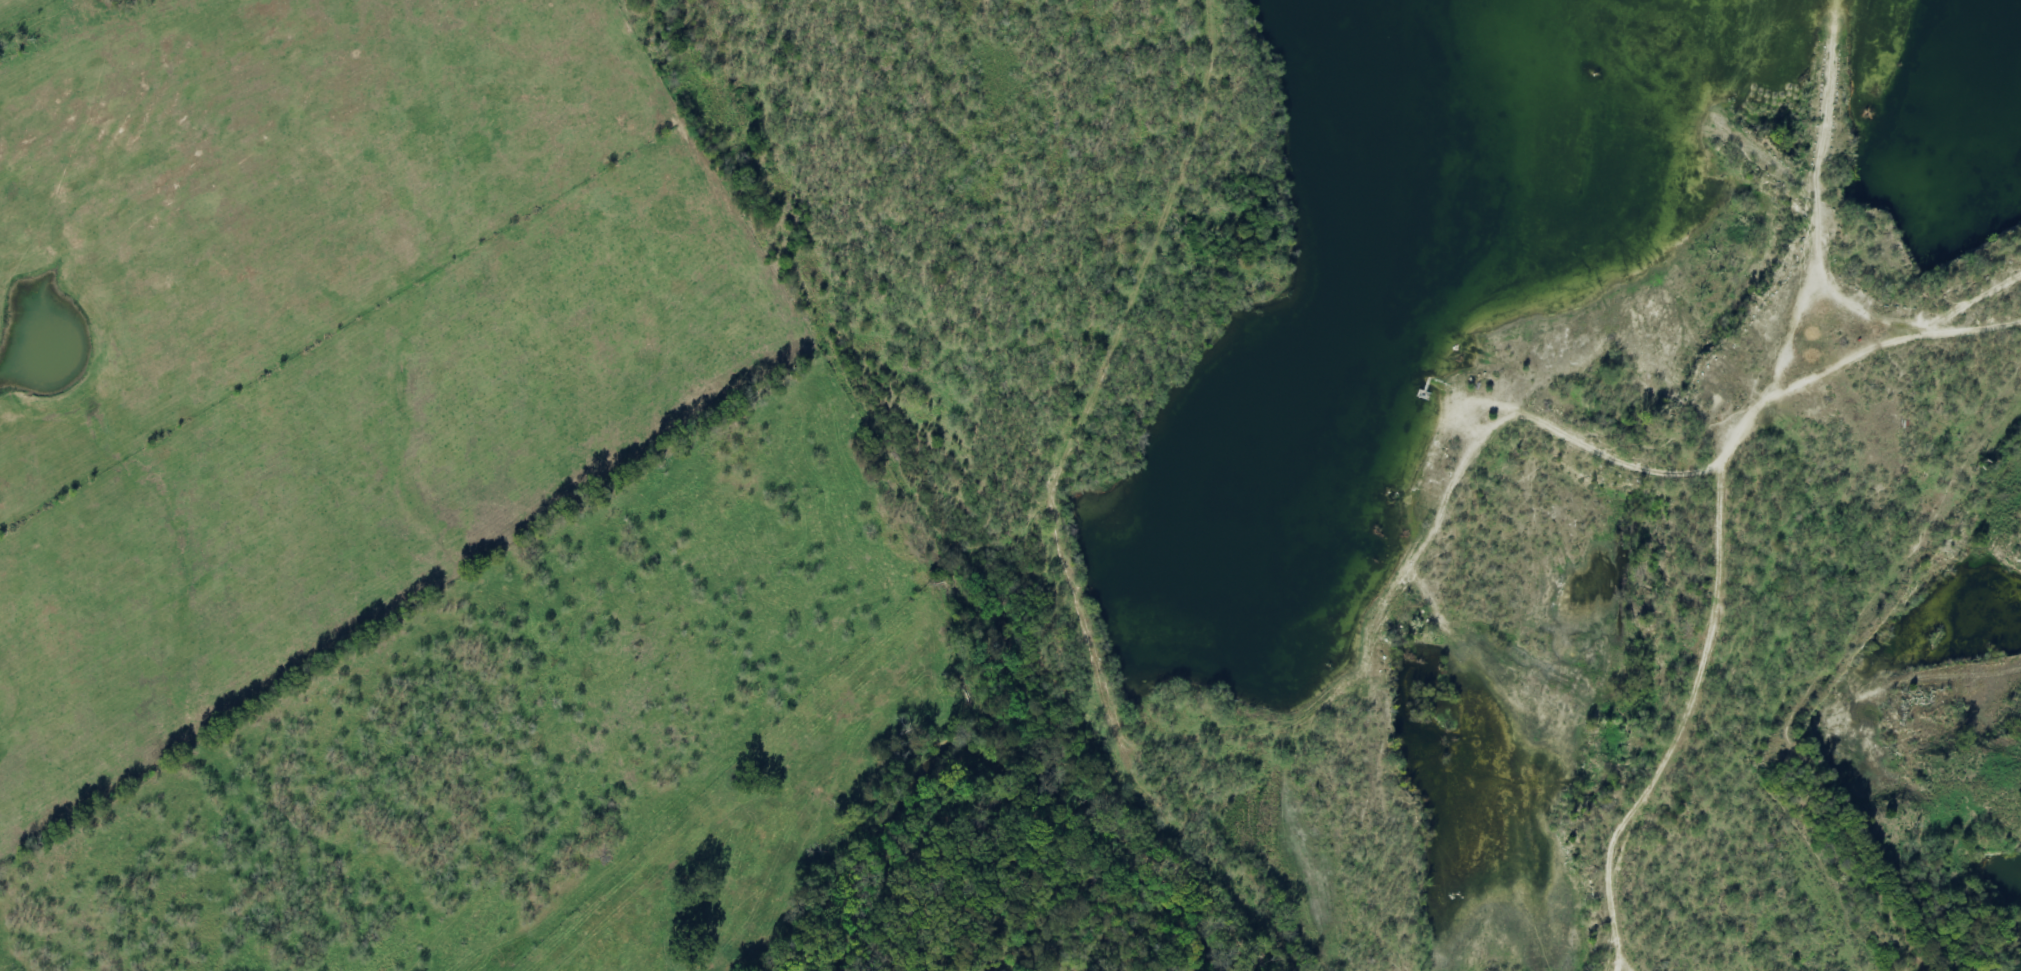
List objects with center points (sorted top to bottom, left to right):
road: (1867, 128)

